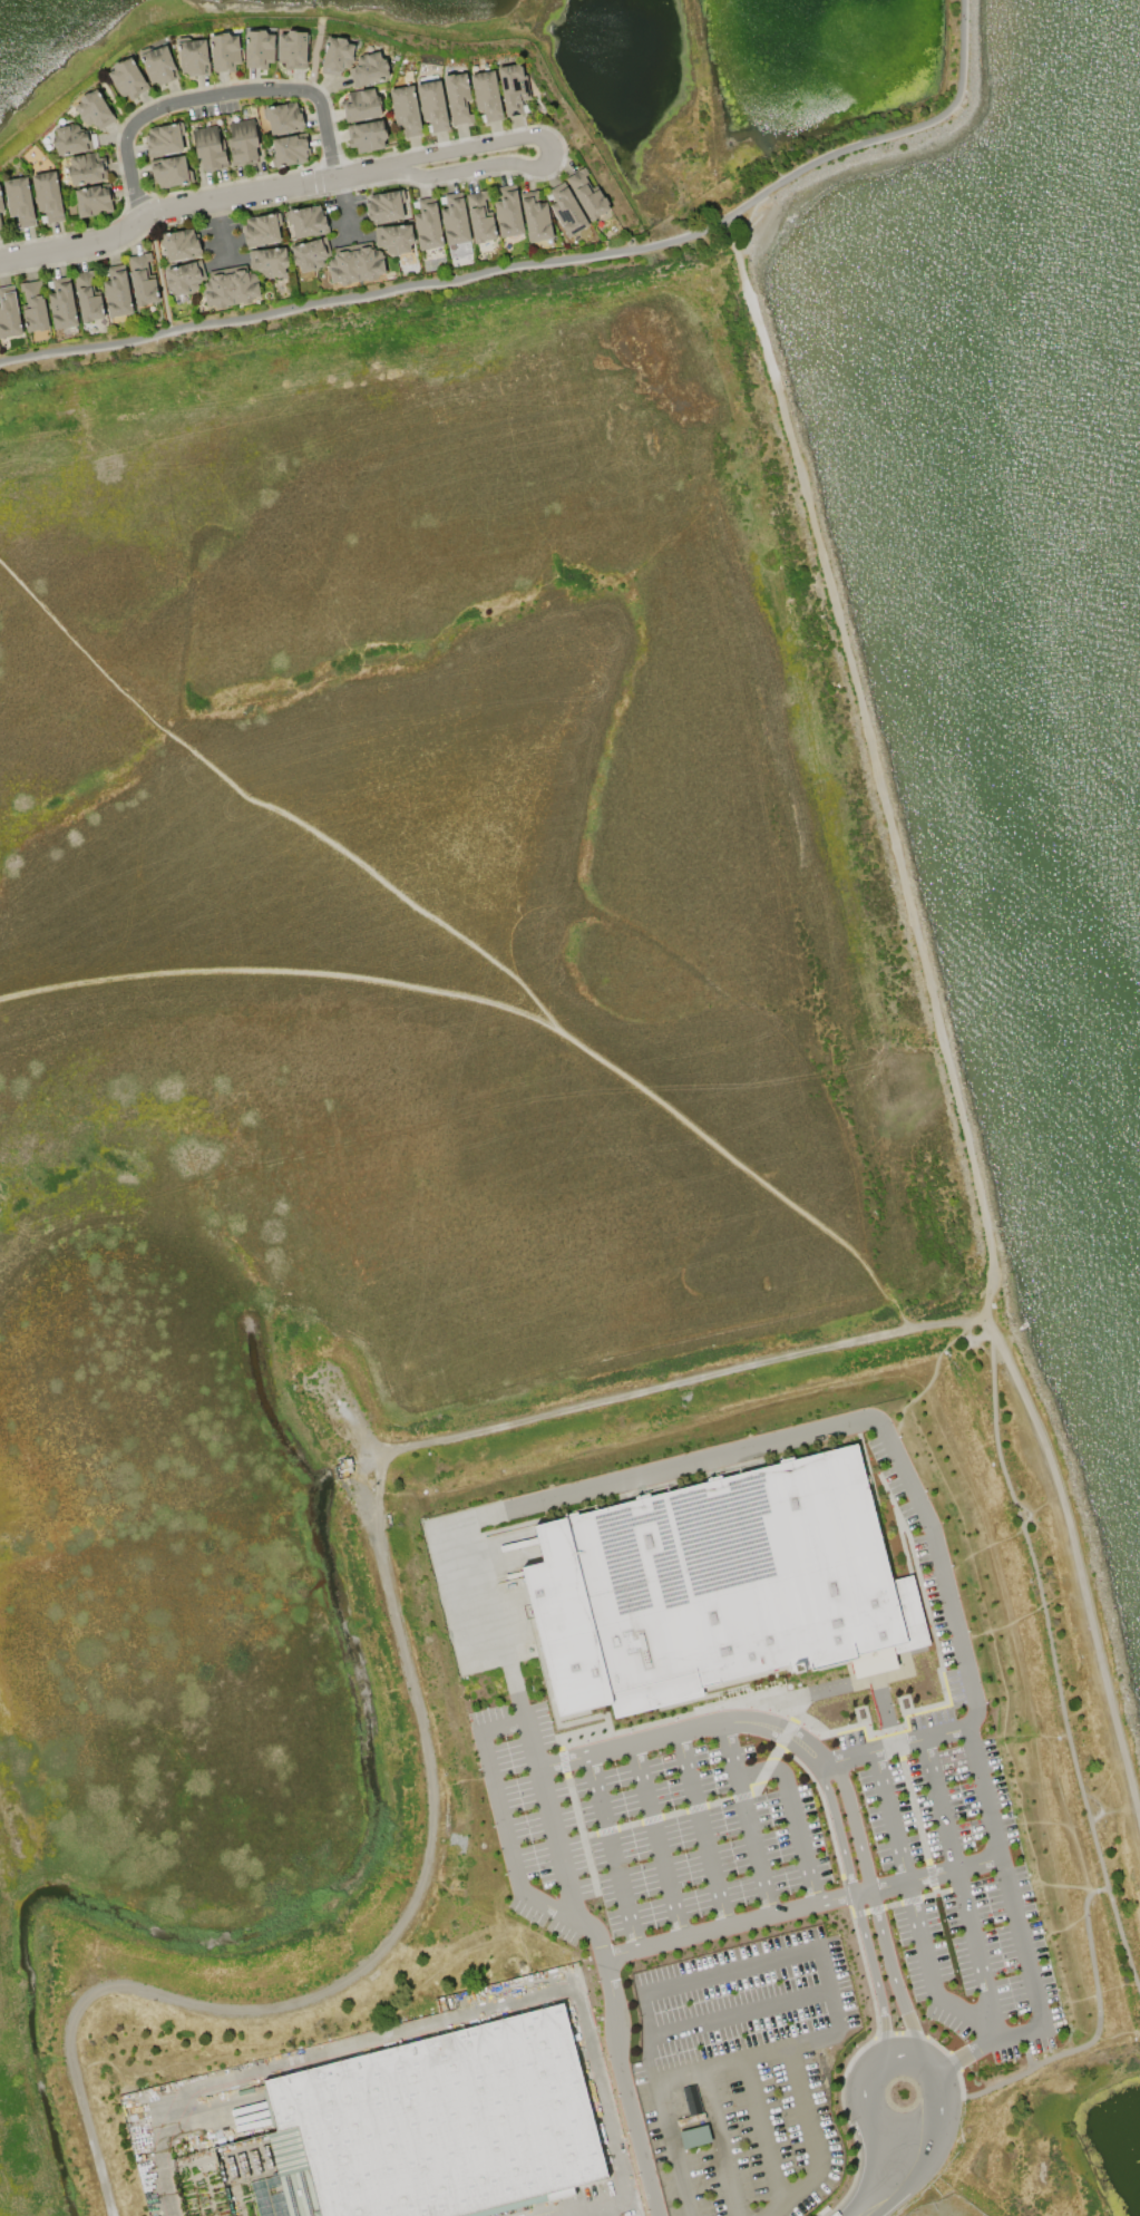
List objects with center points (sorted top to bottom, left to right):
building: (259, 49)
building: (292, 49)
building: (224, 52)
building: (192, 56)
building: (335, 56)
building: (157, 65)
building: (369, 69)
building: (127, 78)
building: (513, 88)
building: (486, 95)
building: (457, 97)
road: (220, 101)
building: (360, 105)
building: (432, 105)
building: (406, 109)
building: (94, 110)
building: (283, 117)
building: (367, 136)
building: (70, 139)
building: (164, 140)
building: (242, 143)
building: (208, 148)
building: (289, 150)
building: (86, 168)
building: (169, 172)
road: (265, 192)
building: (587, 195)
building: (47, 196)
building: (92, 201)
building: (18, 202)
building: (1, 206)
building: (384, 207)
building: (566, 210)
building: (508, 212)
building: (479, 217)
building: (536, 217)
building: (306, 221)
building: (454, 221)
building: (427, 225)
building: (2, 230)
building: (261, 230)
building: (393, 239)
building: (178, 244)
building: (310, 254)
building: (269, 262)
road: (544, 263)
building: (354, 264)
road: (158, 273)
building: (185, 278)
building: (142, 280)
building: (230, 288)
building: (116, 292)
building: (87, 298)
building: (61, 304)
building: (33, 307)
building: (8, 313)
road: (930, 1020)
road: (676, 1466)
parking lot: (919, 1551)
road: (942, 1577)
building: (718, 1586)
road: (495, 1612)
road: (1055, 1663)
road: (856, 1683)
parking lot: (958, 1687)
road: (880, 1701)
road: (782, 1709)
parking lot: (930, 1722)
road: (683, 1730)
road: (889, 1732)
road: (780, 1743)
parking lot: (850, 1743)
road: (893, 1744)
road: (893, 1746)
road: (548, 1812)
road: (666, 1815)
road: (792, 1815)
road: (746, 1818)
road: (577, 1820)
road: (917, 1823)
road: (503, 1828)
road: (700, 1829)
parking lot: (637, 1830)
road: (655, 1840)
road: (611, 1851)
road: (934, 1874)
road: (959, 1888)
road: (861, 1892)
parking lot: (962, 1897)
road: (899, 1902)
road: (874, 1906)
road: (1012, 1906)
road: (857, 1909)
road: (913, 1909)
road: (728, 1925)
road: (729, 1971)
road: (738, 2013)
road: (425, 2024)
road: (646, 2025)
road: (1093, 2038)
road: (785, 2045)
road: (900, 2054)
road: (956, 2059)
road: (620, 2071)
road: (861, 2100)
road: (939, 2101)
building: (435, 2126)
road: (761, 2130)
road: (670, 2136)
building: (694, 2136)
road: (812, 2140)
road: (717, 2141)
road: (885, 2179)
road: (585, 2212)
road: (605, 2212)

